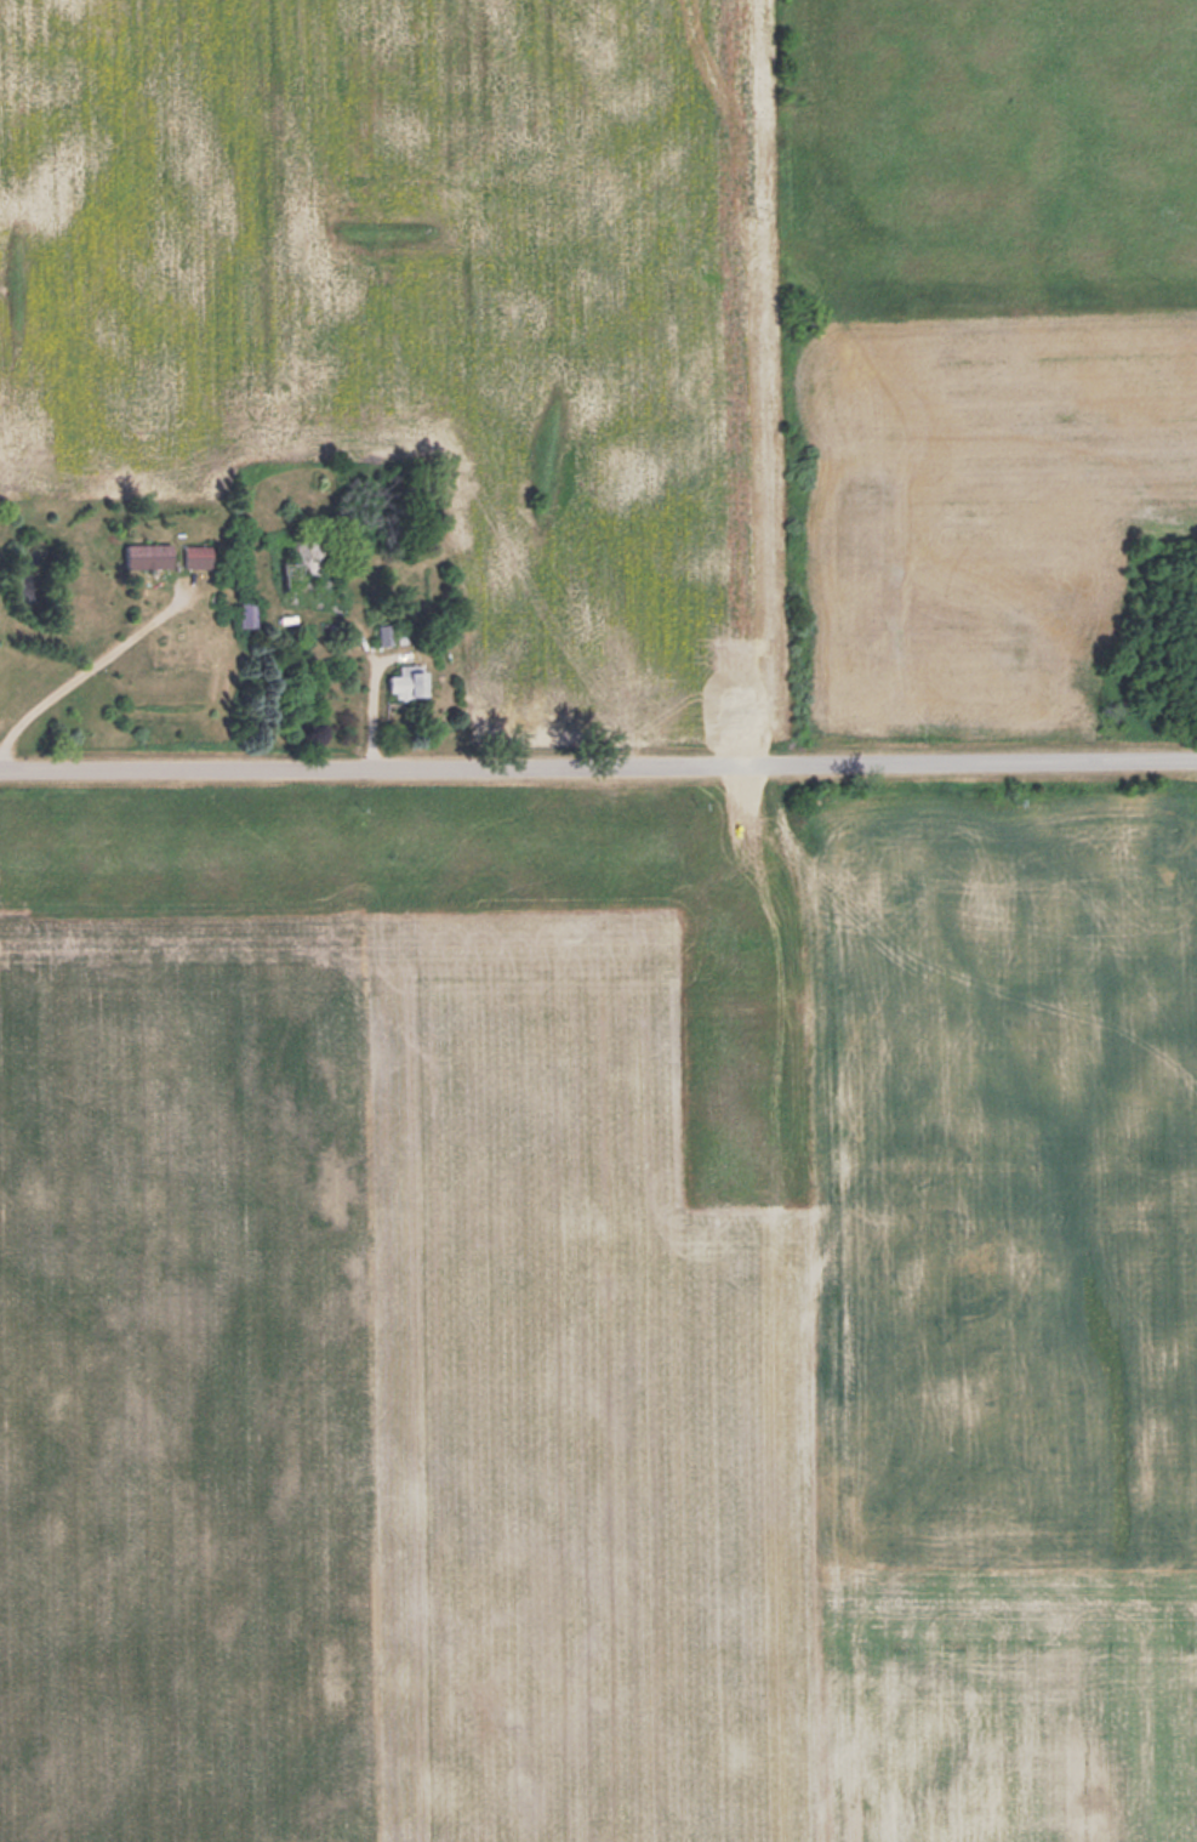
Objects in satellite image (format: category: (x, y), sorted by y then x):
building: (149, 555)
building: (199, 555)
building: (296, 568)
building: (249, 618)
building: (386, 632)
road: (86, 669)
building: (410, 680)
road: (598, 760)

